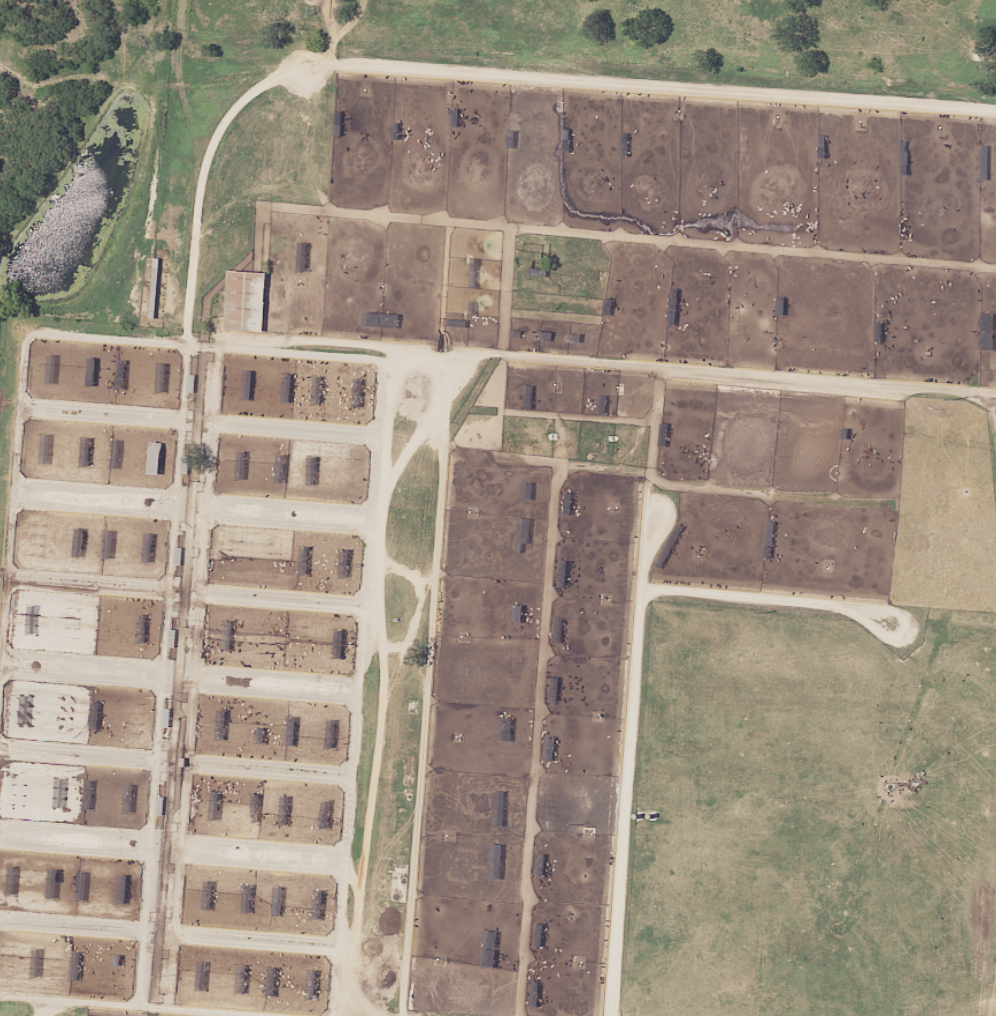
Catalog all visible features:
road: (228, 60)
road: (181, 93)
road: (197, 163)
building: (245, 300)
building: (781, 315)
building: (879, 323)
building: (987, 331)
road: (372, 349)
building: (317, 394)
power tower: (959, 398)
road: (428, 409)
building: (718, 426)
road: (201, 430)
building: (154, 458)
road: (195, 502)
building: (526, 515)
building: (39, 540)
building: (79, 542)
road: (188, 593)
power tower: (767, 613)
building: (73, 623)
building: (102, 624)
road: (184, 678)
road: (368, 683)
road: (631, 685)
road: (424, 703)
building: (25, 710)
building: (66, 711)
building: (95, 715)
building: (135, 717)
building: (221, 725)
building: (261, 728)
road: (179, 765)
building: (60, 791)
power tower: (582, 821)
road: (176, 850)
building: (13, 880)
building: (123, 889)
building: (208, 895)
building: (277, 901)
building: (319, 905)
road: (173, 928)
building: (202, 976)
road: (68, 999)
road: (39, 1006)
road: (205, 1010)

